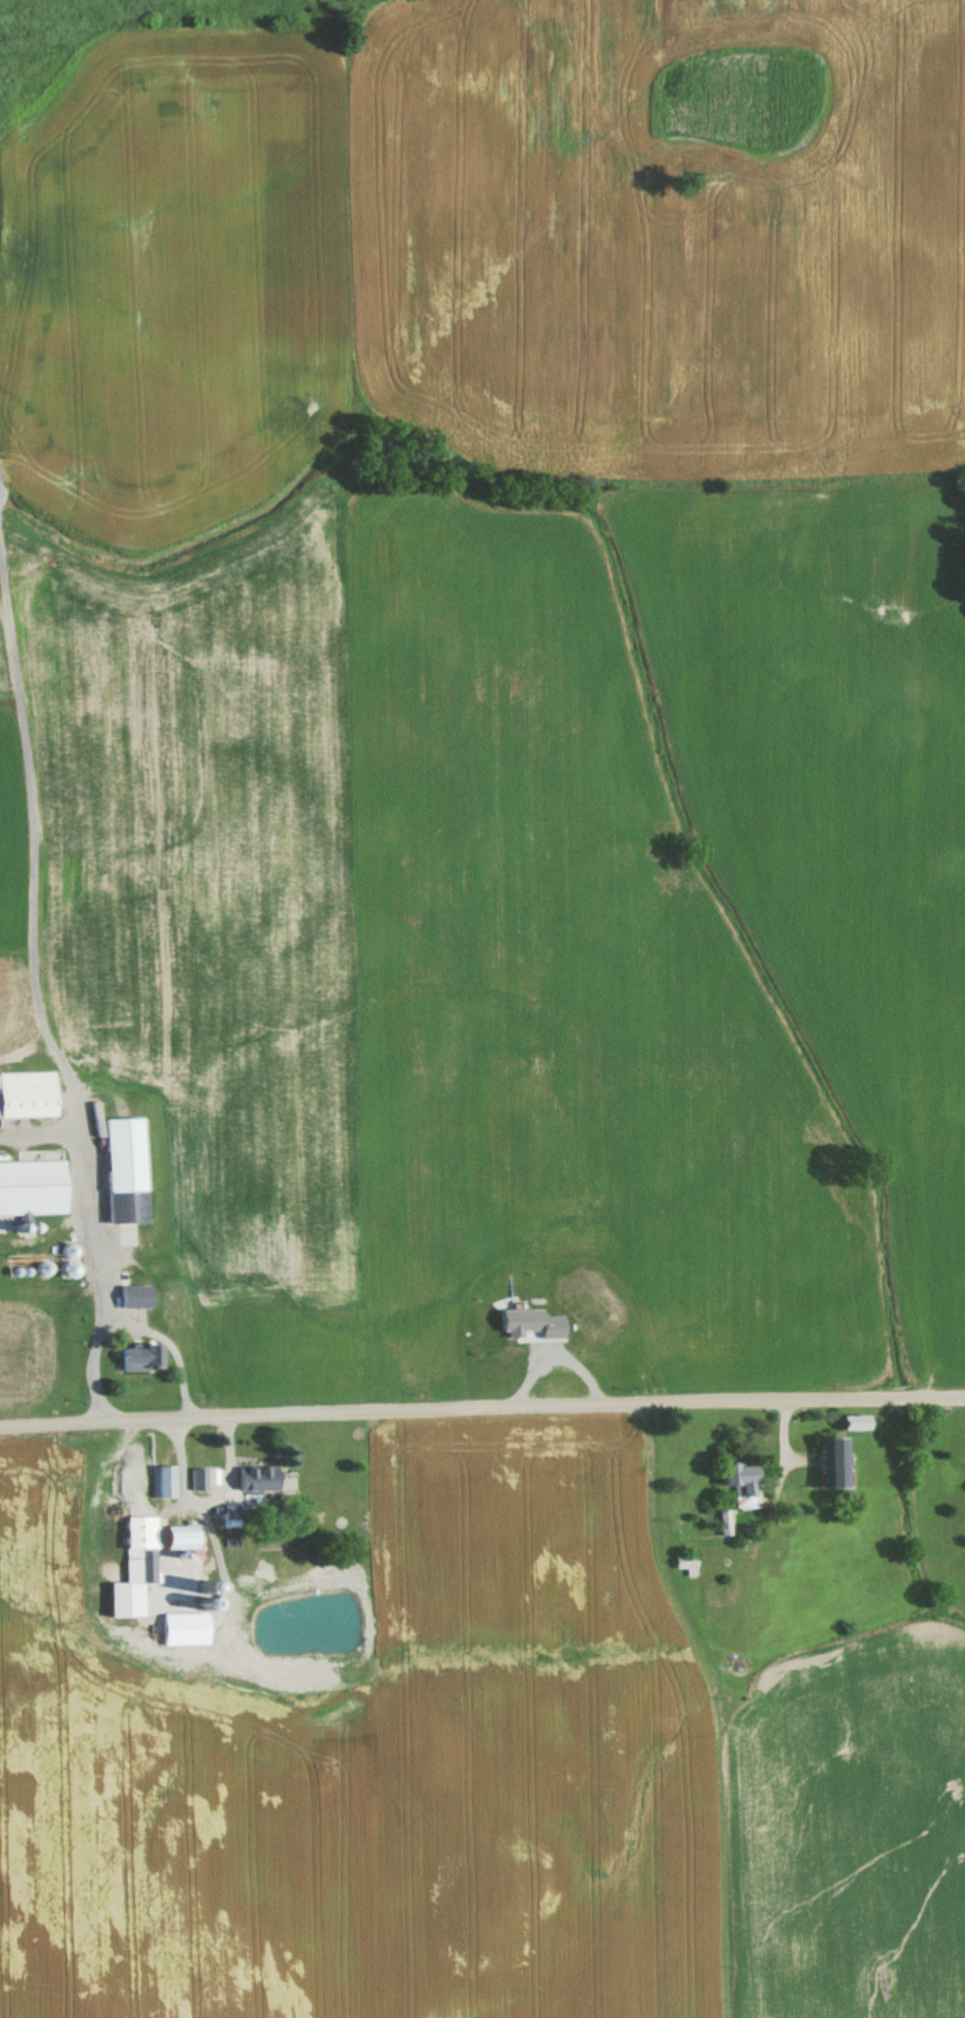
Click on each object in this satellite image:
road: (34, 999)
building: (26, 1094)
building: (122, 1169)
building: (31, 1186)
building: (134, 1294)
road: (167, 1344)
building: (137, 1356)
road: (874, 1396)
road: (391, 1408)
building: (853, 1421)
road: (781, 1454)
road: (795, 1457)
building: (830, 1461)
building: (265, 1478)
building: (738, 1478)
building: (196, 1479)
building: (162, 1481)
road: (202, 1494)
building: (228, 1519)
road: (210, 1527)
building: (177, 1537)
building: (133, 1567)
building: (185, 1628)

